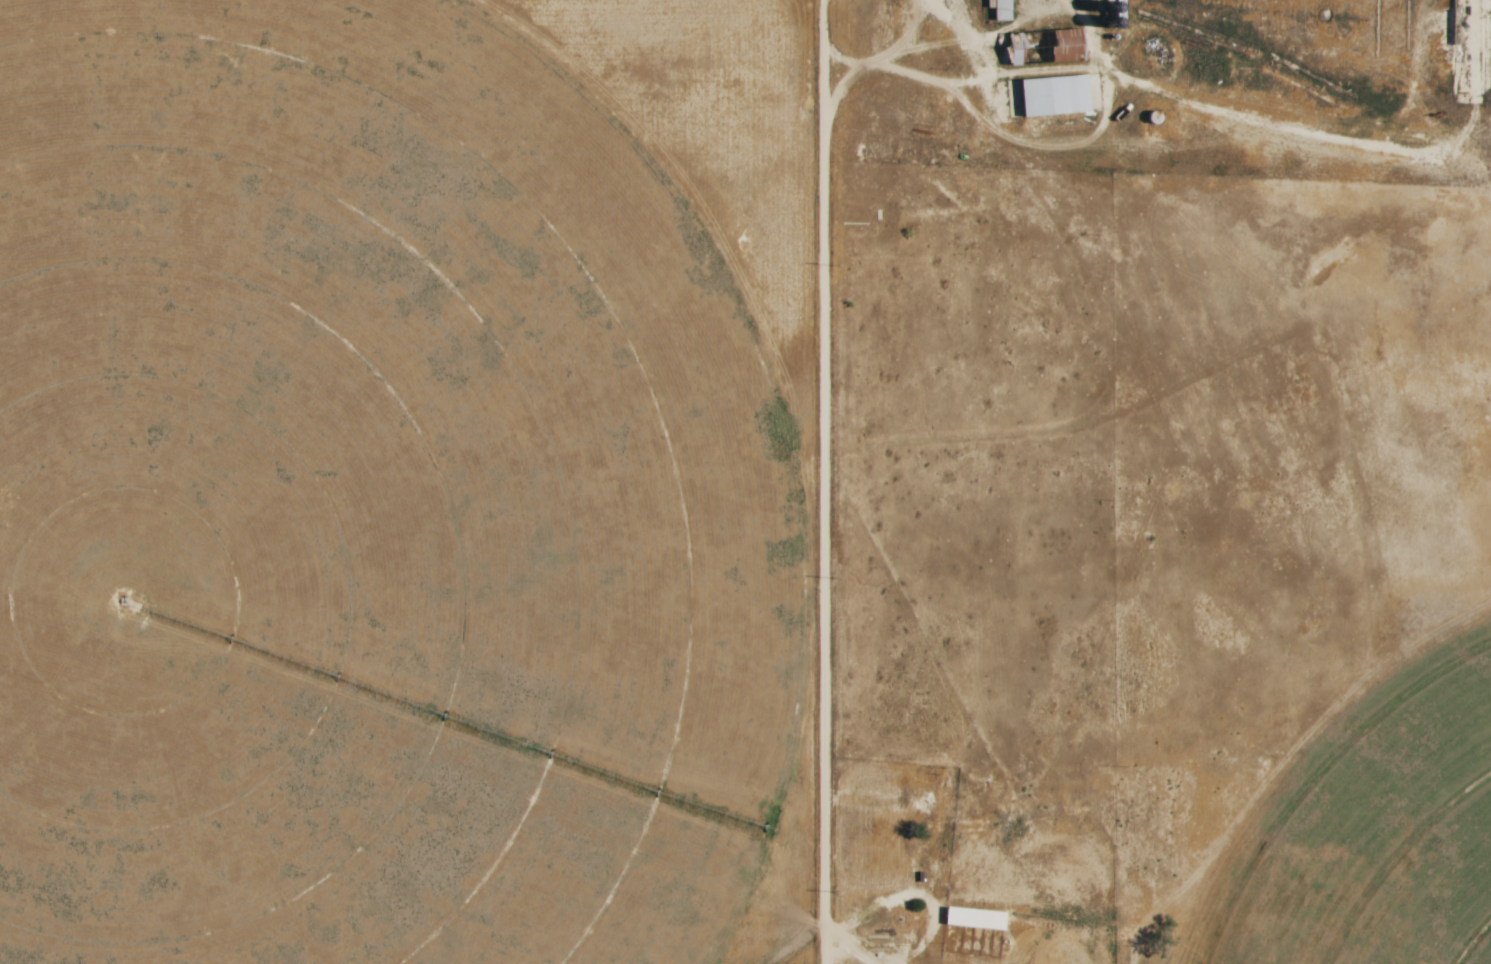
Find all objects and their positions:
building: (1003, 10)
building: (1056, 96)
road: (826, 481)
building: (976, 918)

